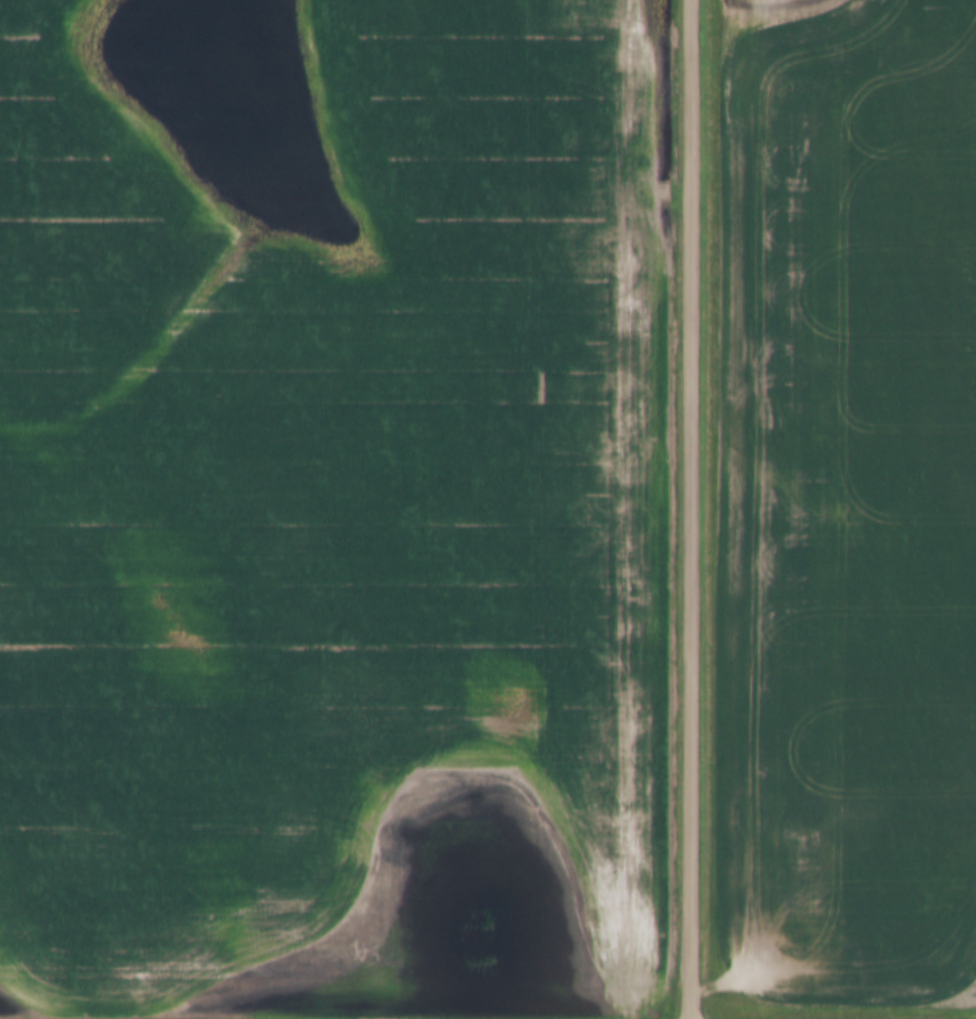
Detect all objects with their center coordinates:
road: (692, 509)

